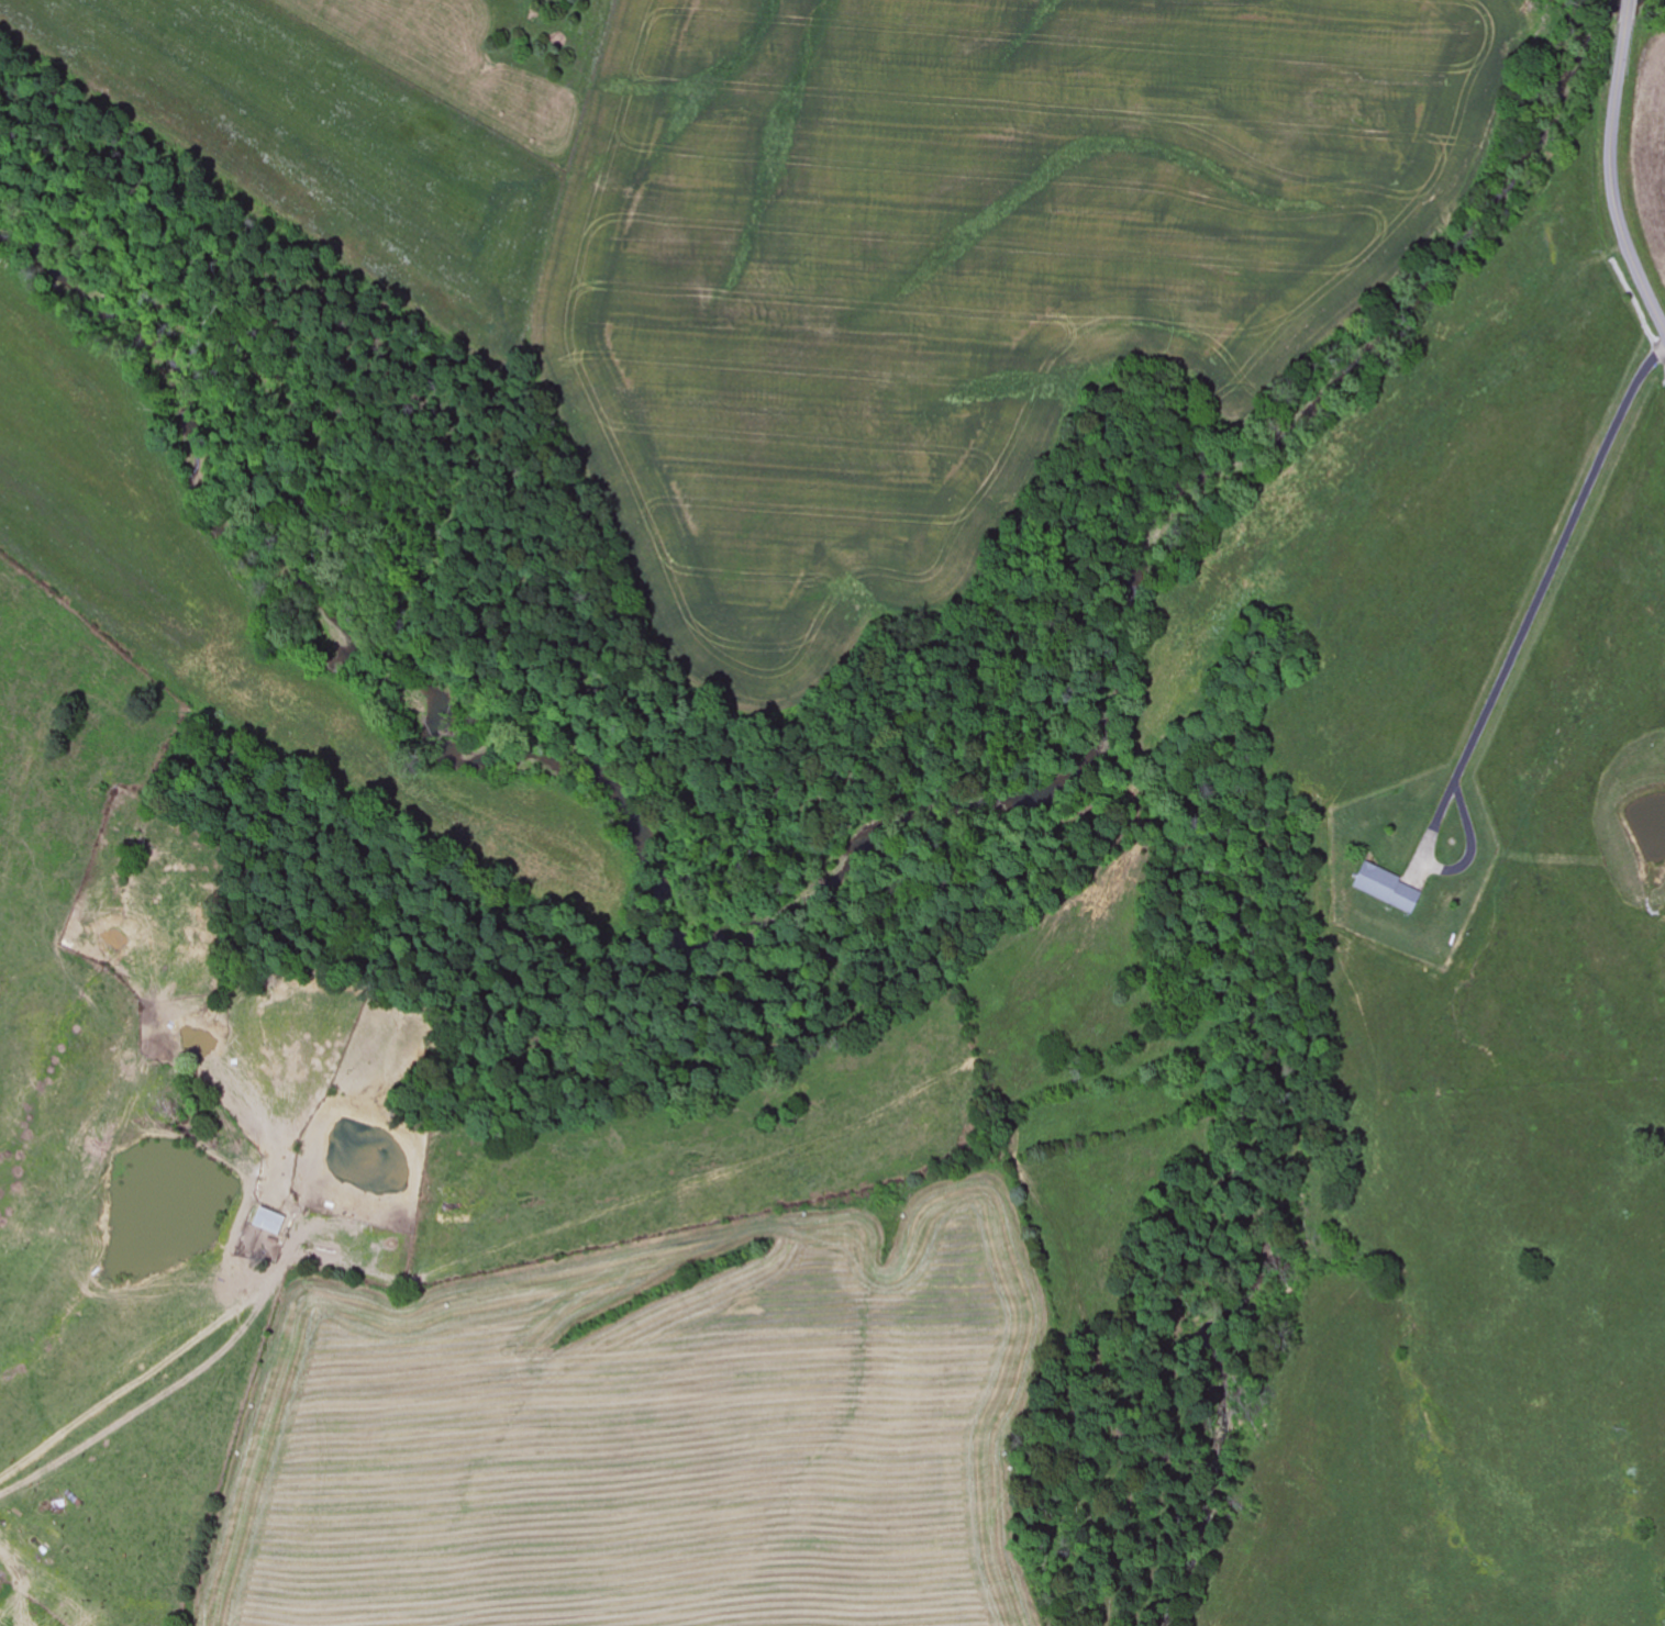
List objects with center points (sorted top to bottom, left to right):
road: (1611, 169)
building: (1387, 889)
building: (268, 1223)

